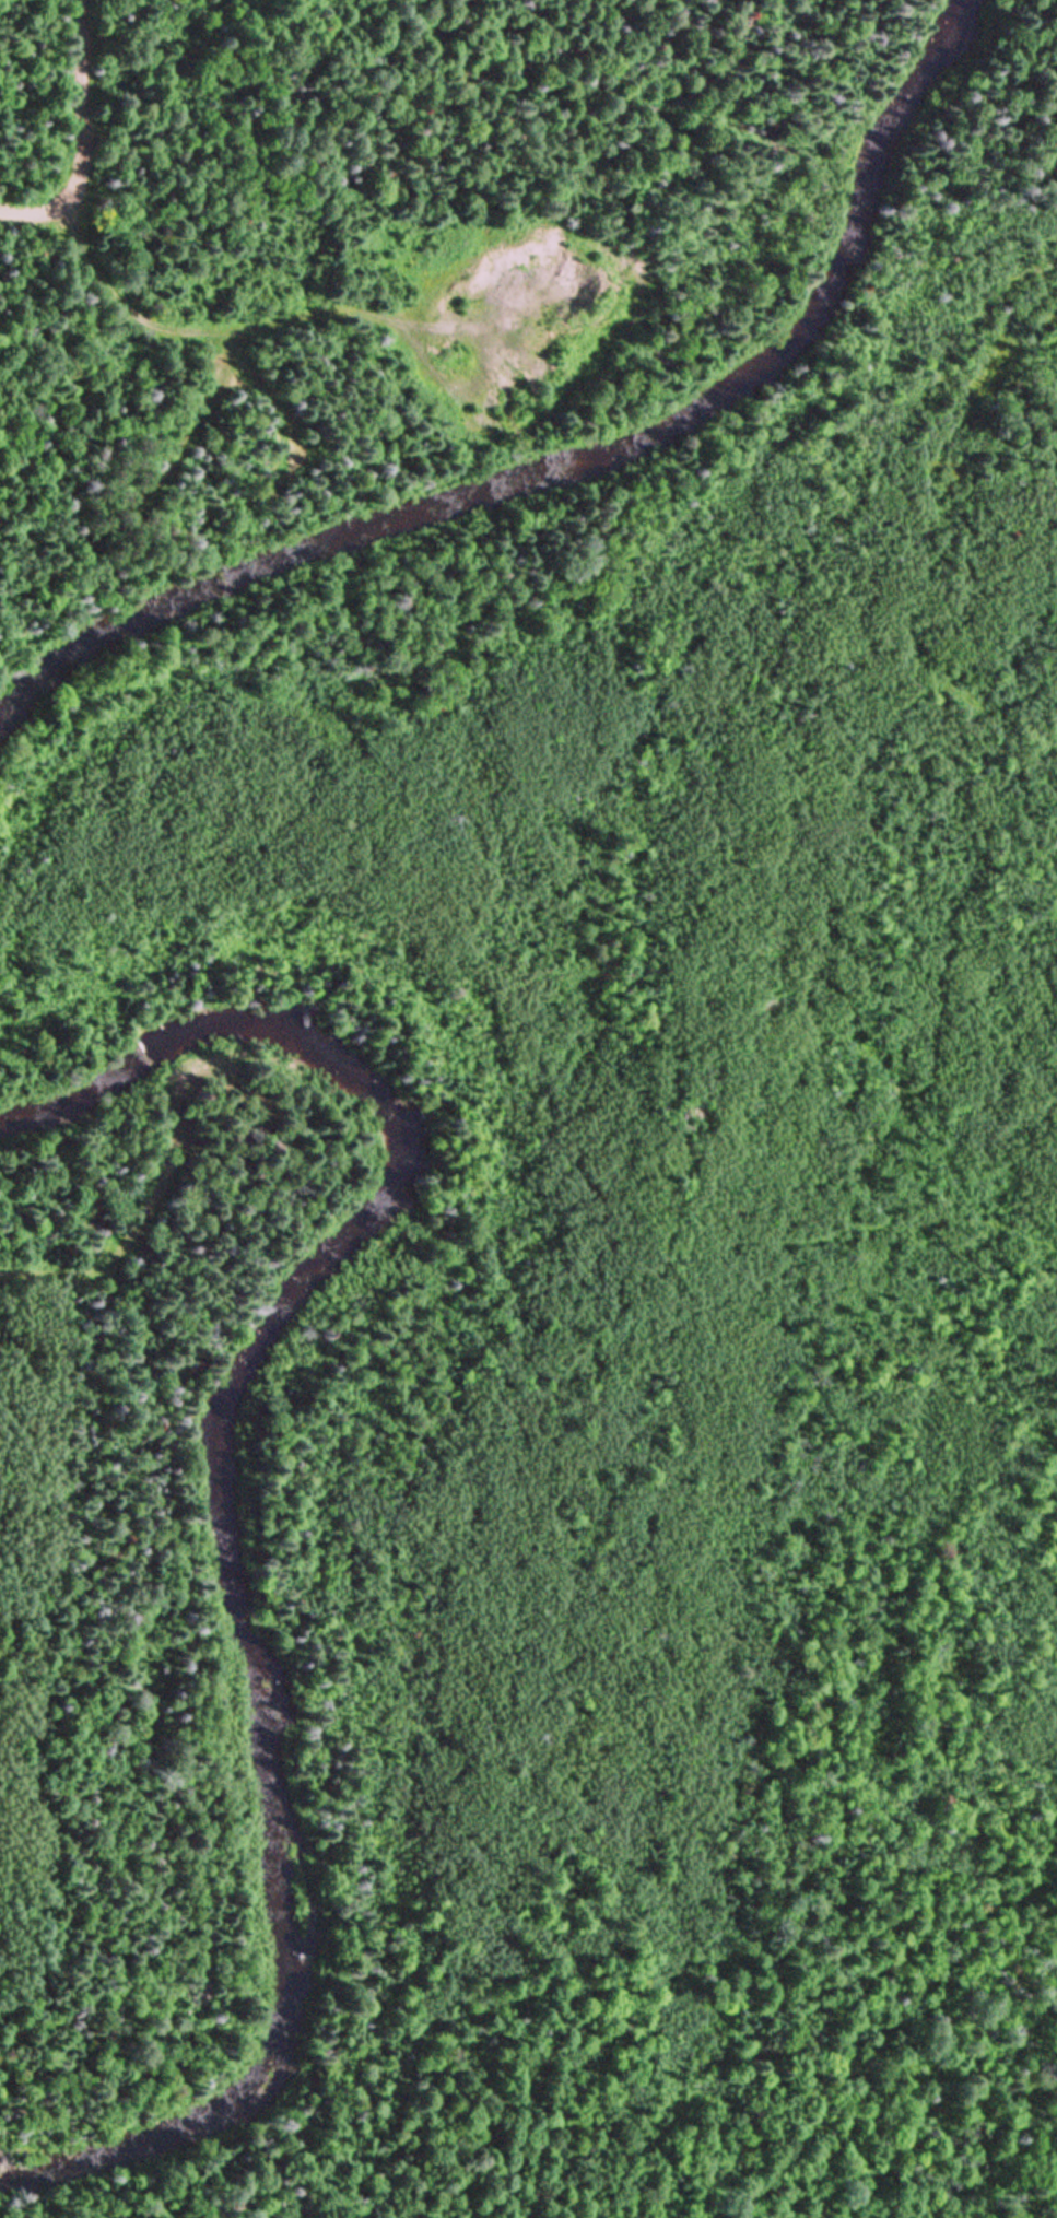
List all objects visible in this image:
road: (78, 134)
river: (686, 392)
river: (125, 665)
river: (219, 1359)
river: (139, 2187)

